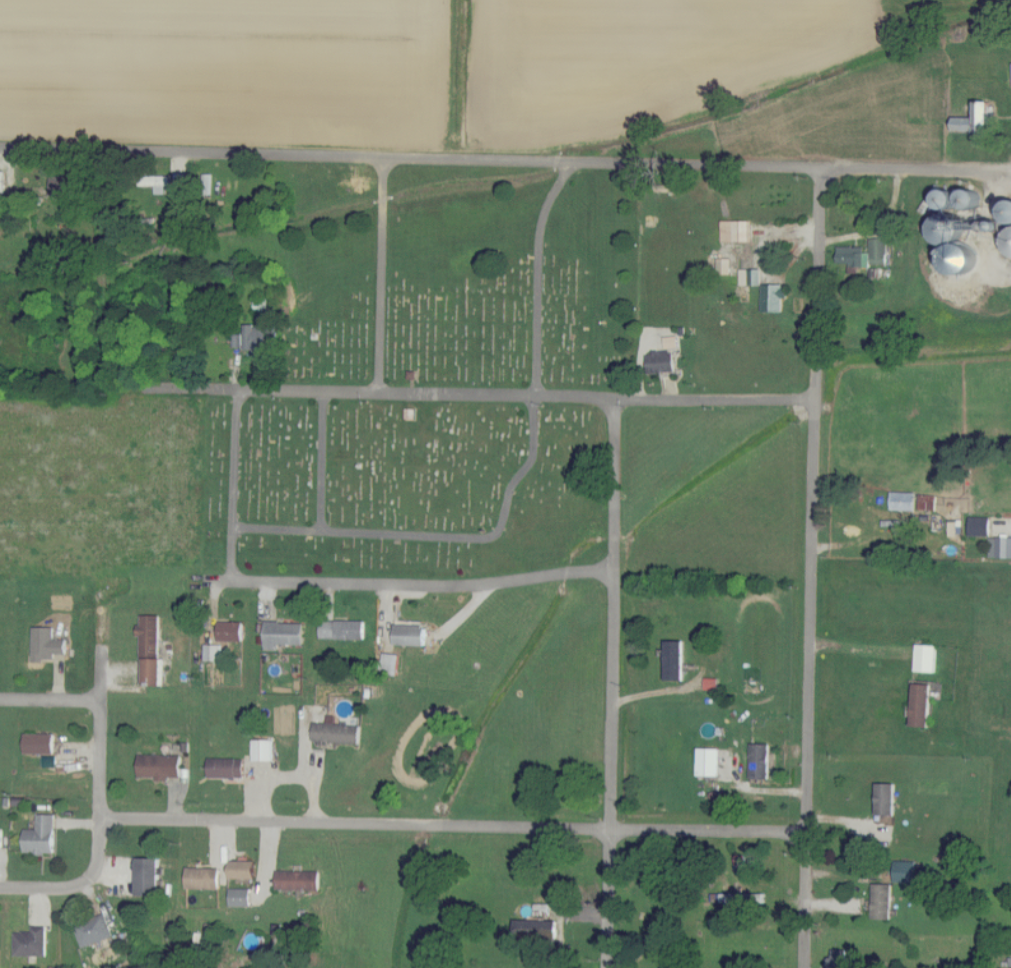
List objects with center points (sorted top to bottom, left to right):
building: (978, 118)
road: (505, 159)
building: (2, 181)
building: (157, 182)
building: (63, 185)
building: (736, 230)
building: (958, 238)
building: (1009, 240)
building: (866, 254)
building: (725, 265)
road: (106, 269)
road: (382, 275)
building: (751, 276)
building: (775, 296)
building: (261, 338)
building: (672, 342)
building: (662, 361)
road: (459, 394)
road: (235, 458)
road: (320, 461)
road: (520, 475)
building: (904, 501)
building: (929, 503)
building: (981, 526)
building: (956, 528)
building: (1001, 547)
road: (811, 567)
road: (397, 582)
building: (343, 630)
building: (230, 631)
building: (411, 633)
building: (283, 634)
building: (47, 644)
building: (151, 648)
road: (860, 650)
building: (213, 653)
building: (926, 658)
building: (675, 660)
building: (391, 664)
road: (611, 685)
road: (49, 701)
building: (922, 704)
road: (98, 712)
building: (337, 732)
building: (39, 743)
building: (262, 750)
building: (709, 761)
building: (761, 761)
building: (160, 766)
building: (226, 768)
building: (886, 799)
road: (451, 830)
building: (41, 836)
building: (1, 838)
building: (740, 863)
building: (242, 869)
building: (906, 872)
building: (149, 876)
building: (203, 878)
building: (298, 880)
road: (76, 884)
building: (240, 897)
building: (883, 901)
building: (536, 927)
building: (94, 931)
building: (31, 942)
building: (841, 960)

